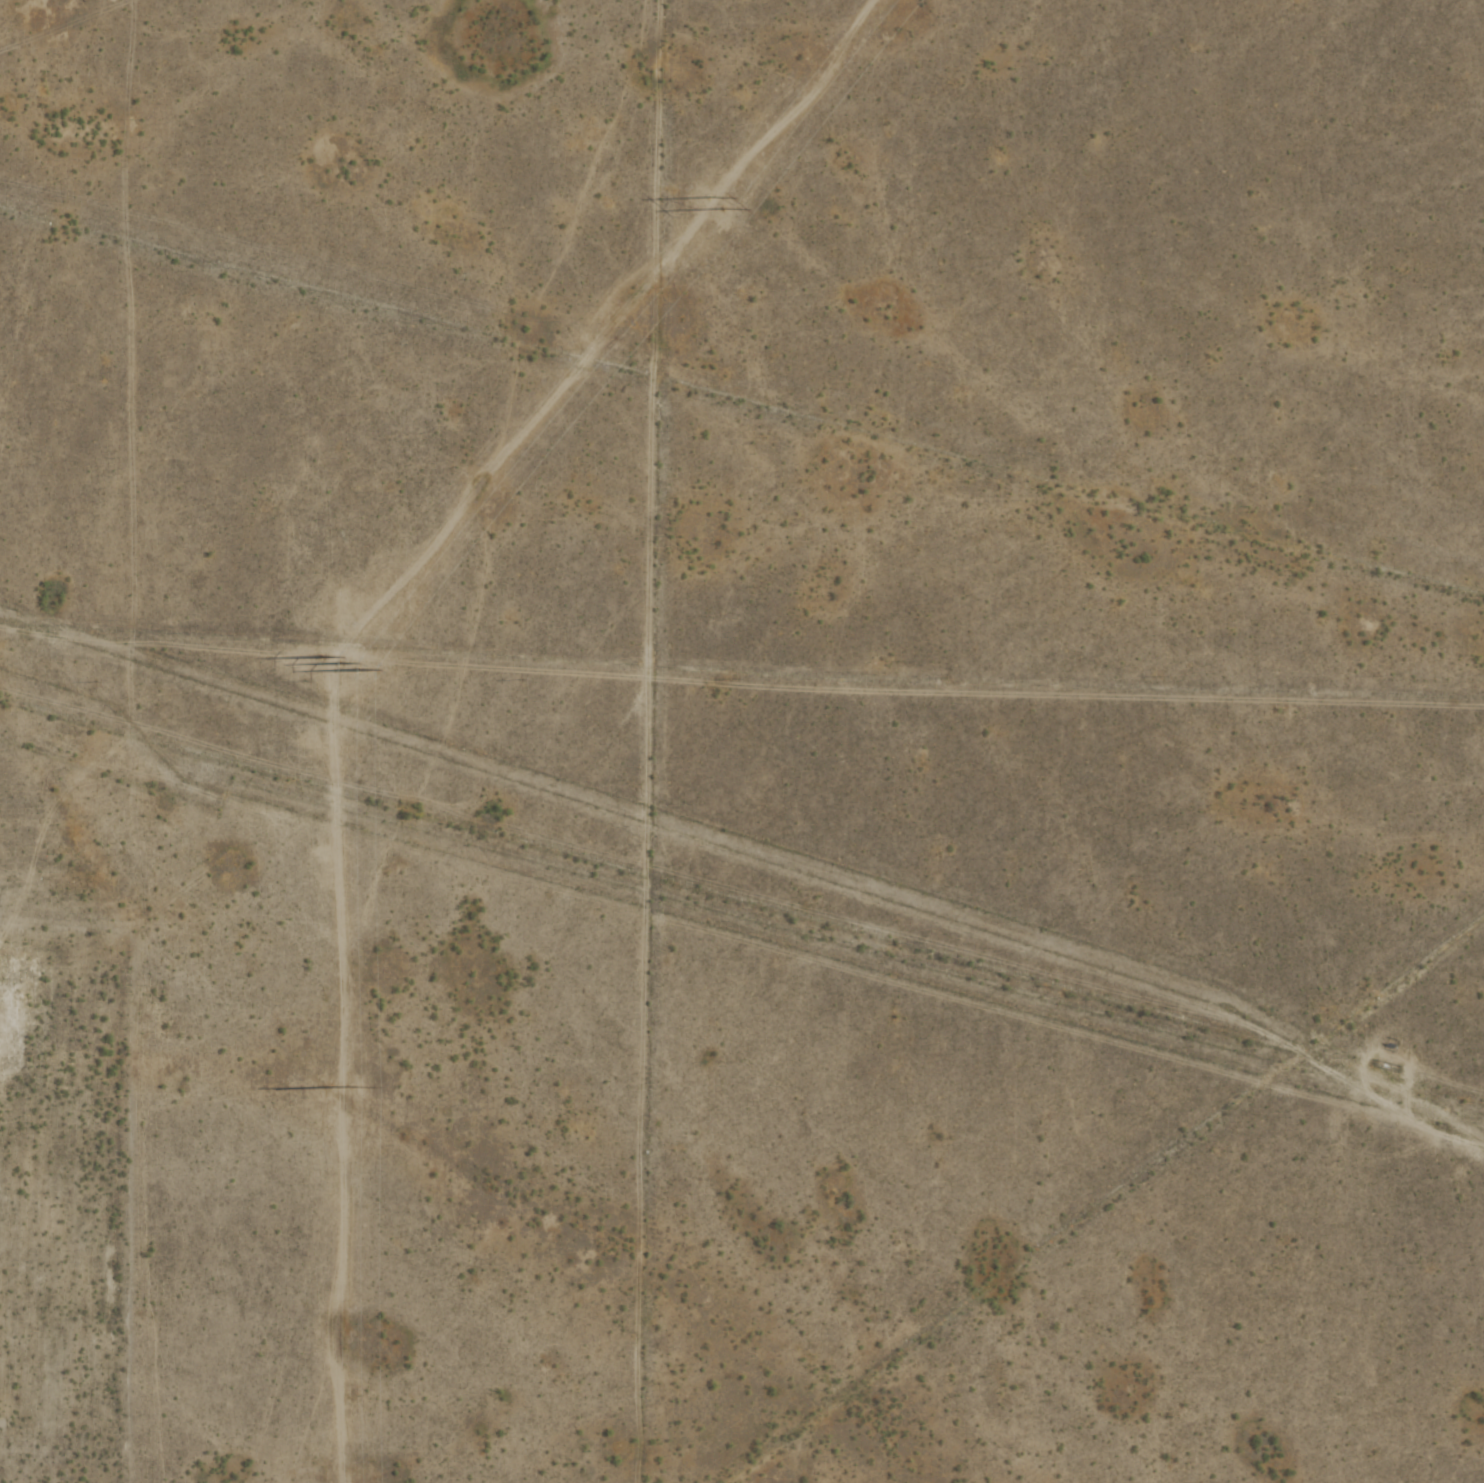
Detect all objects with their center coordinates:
power tower: (708, 202)
road: (742, 405)
power tower: (331, 662)
power tower: (333, 1087)

